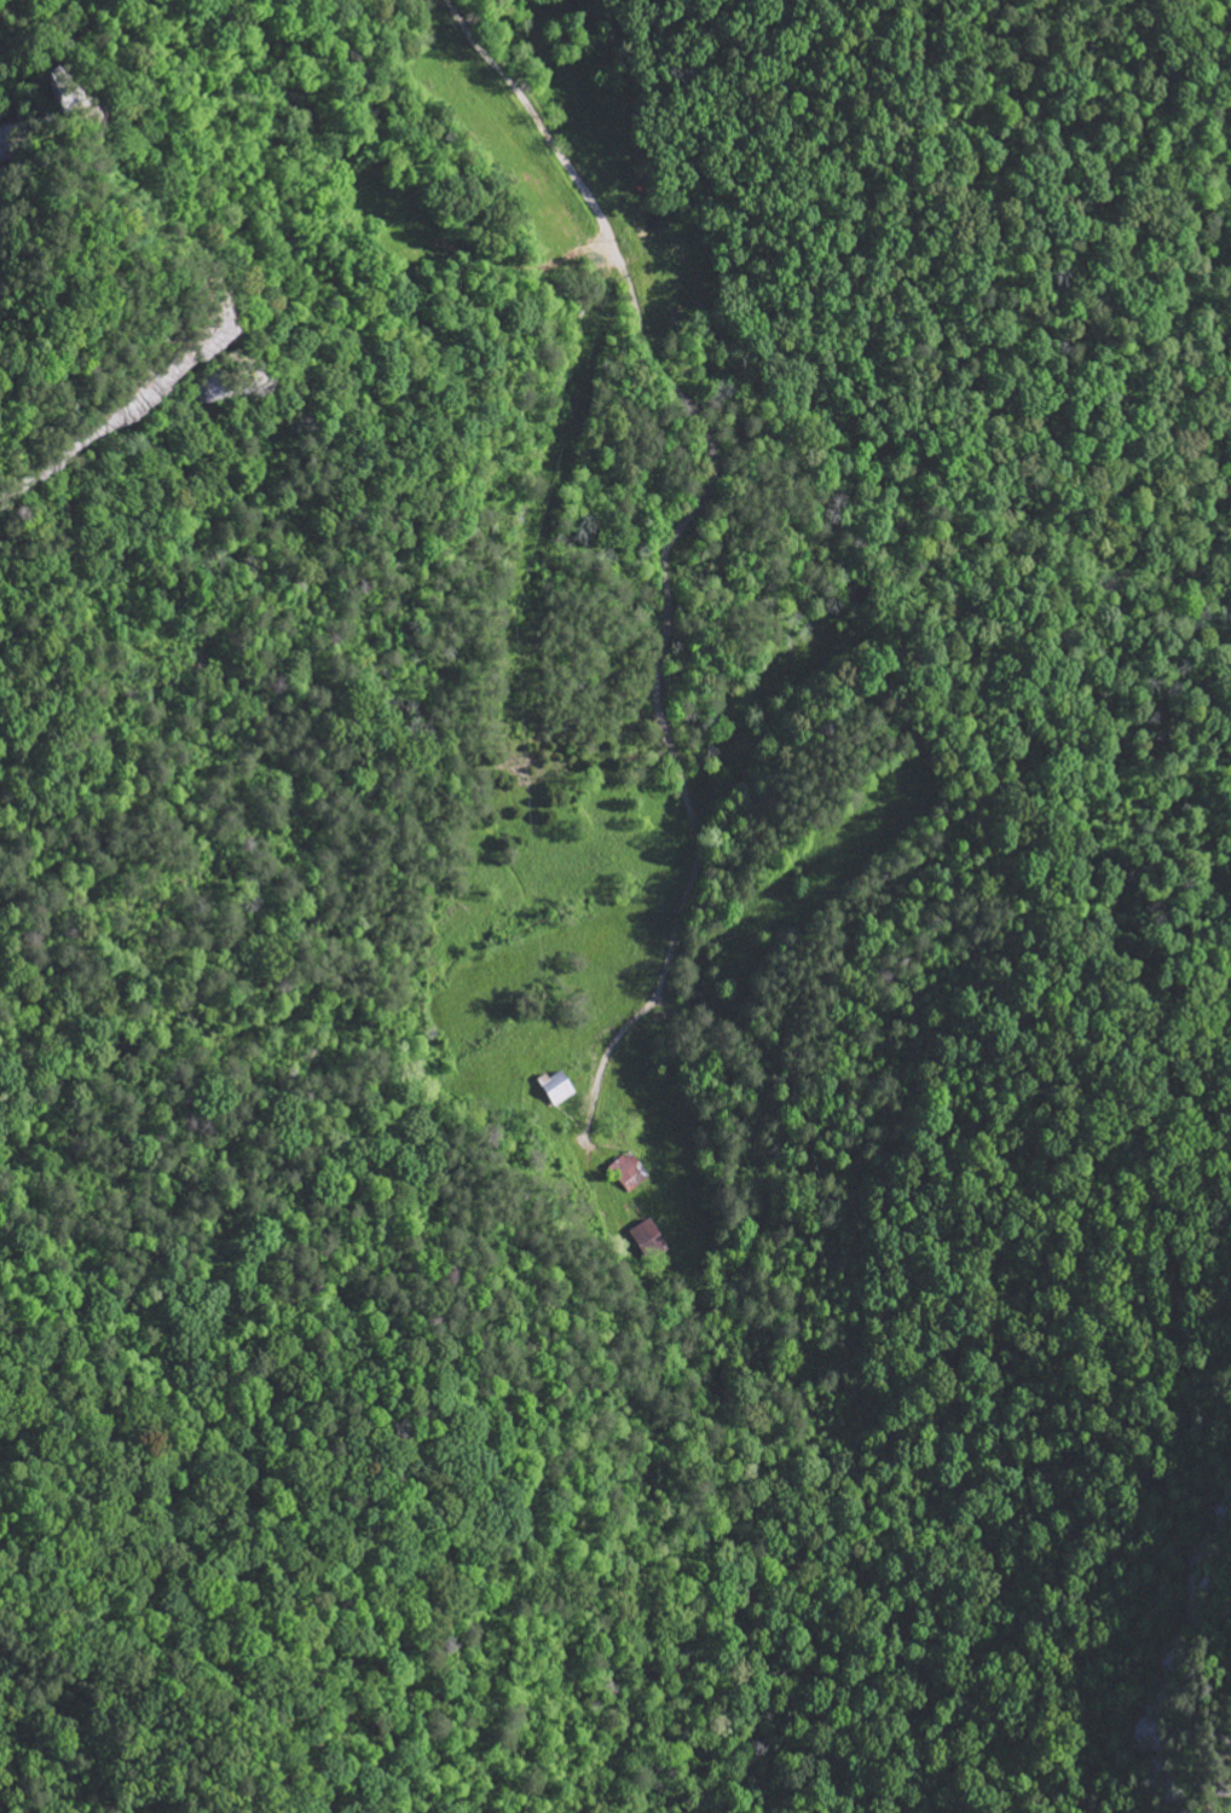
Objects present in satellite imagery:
road: (640, 325)
road: (941, 544)
road: (699, 844)
building: (556, 1086)
building: (648, 1235)

